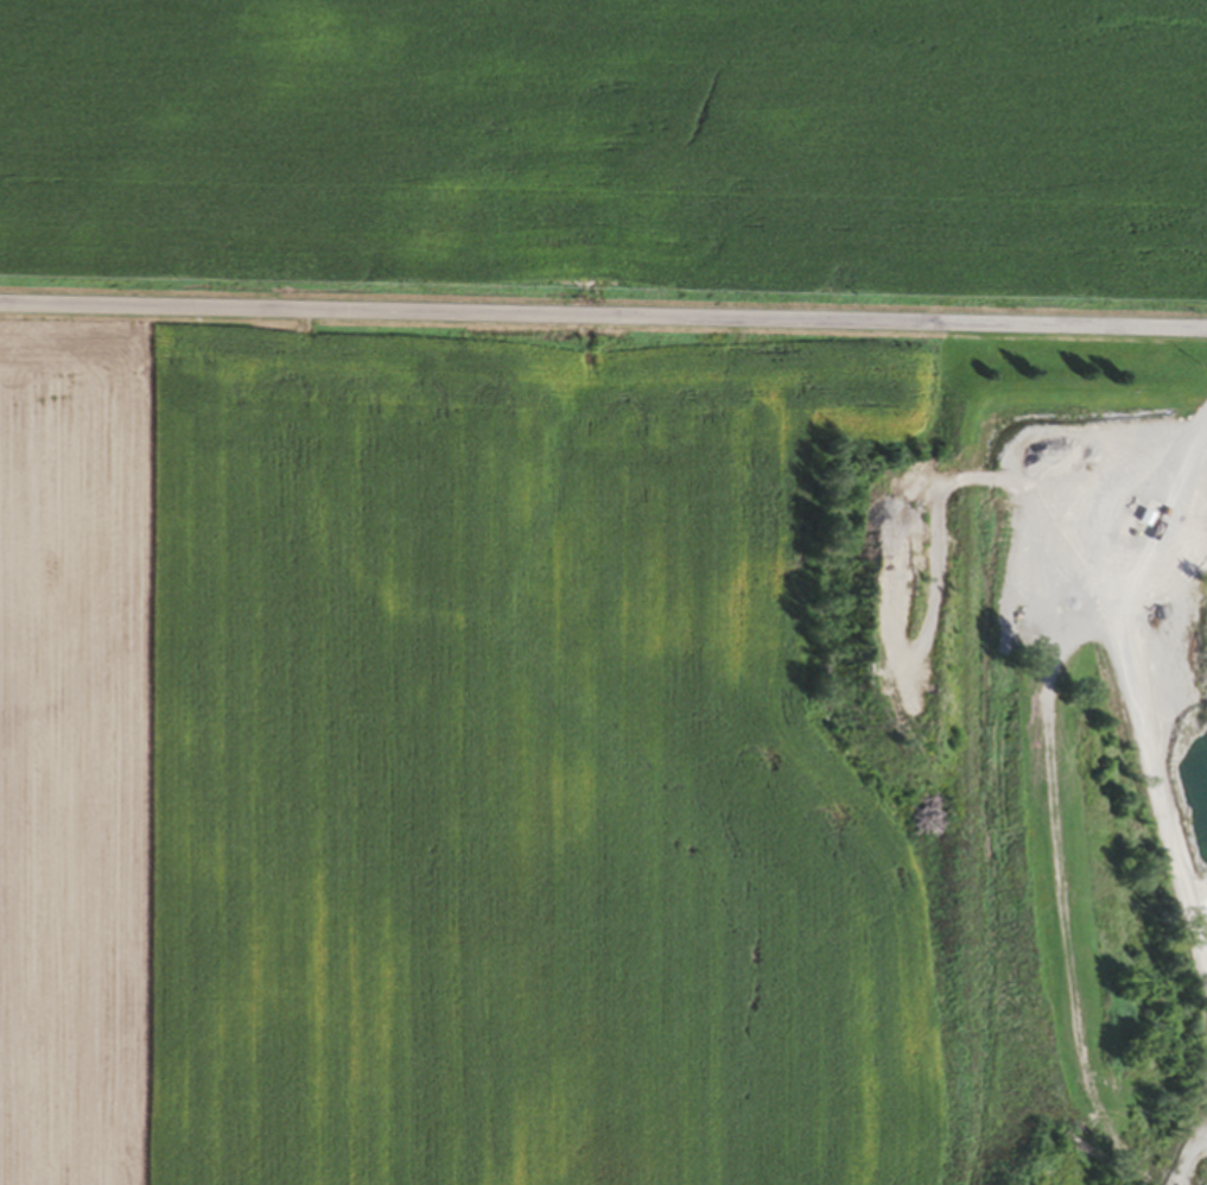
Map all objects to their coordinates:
road: (603, 316)
quarry: (1047, 734)

